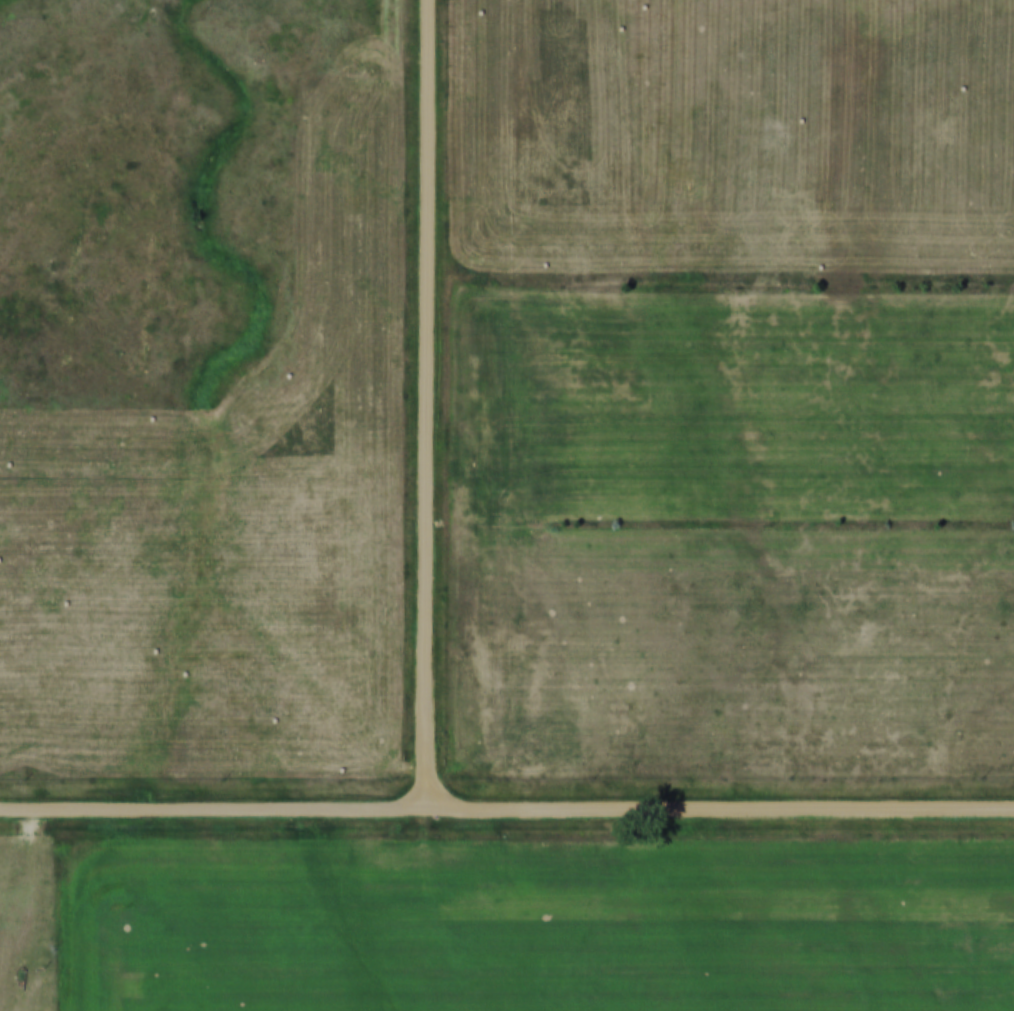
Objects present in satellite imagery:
road: (431, 401)
road: (722, 804)
road: (215, 807)
building: (19, 1007)
silo: (19, 1007)

